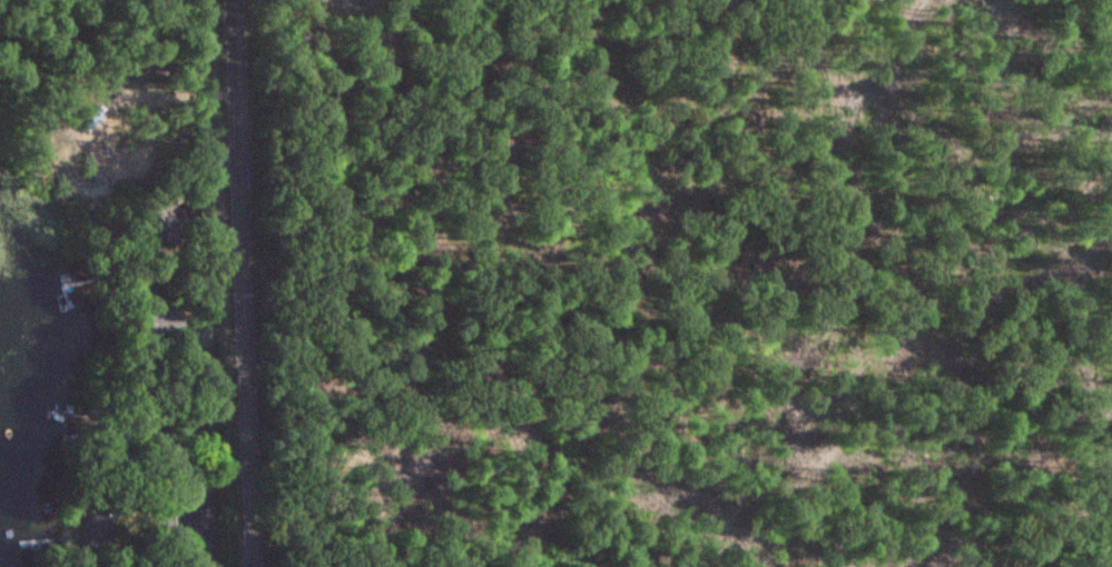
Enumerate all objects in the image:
building: (161, 219)
road: (235, 283)
building: (97, 527)

